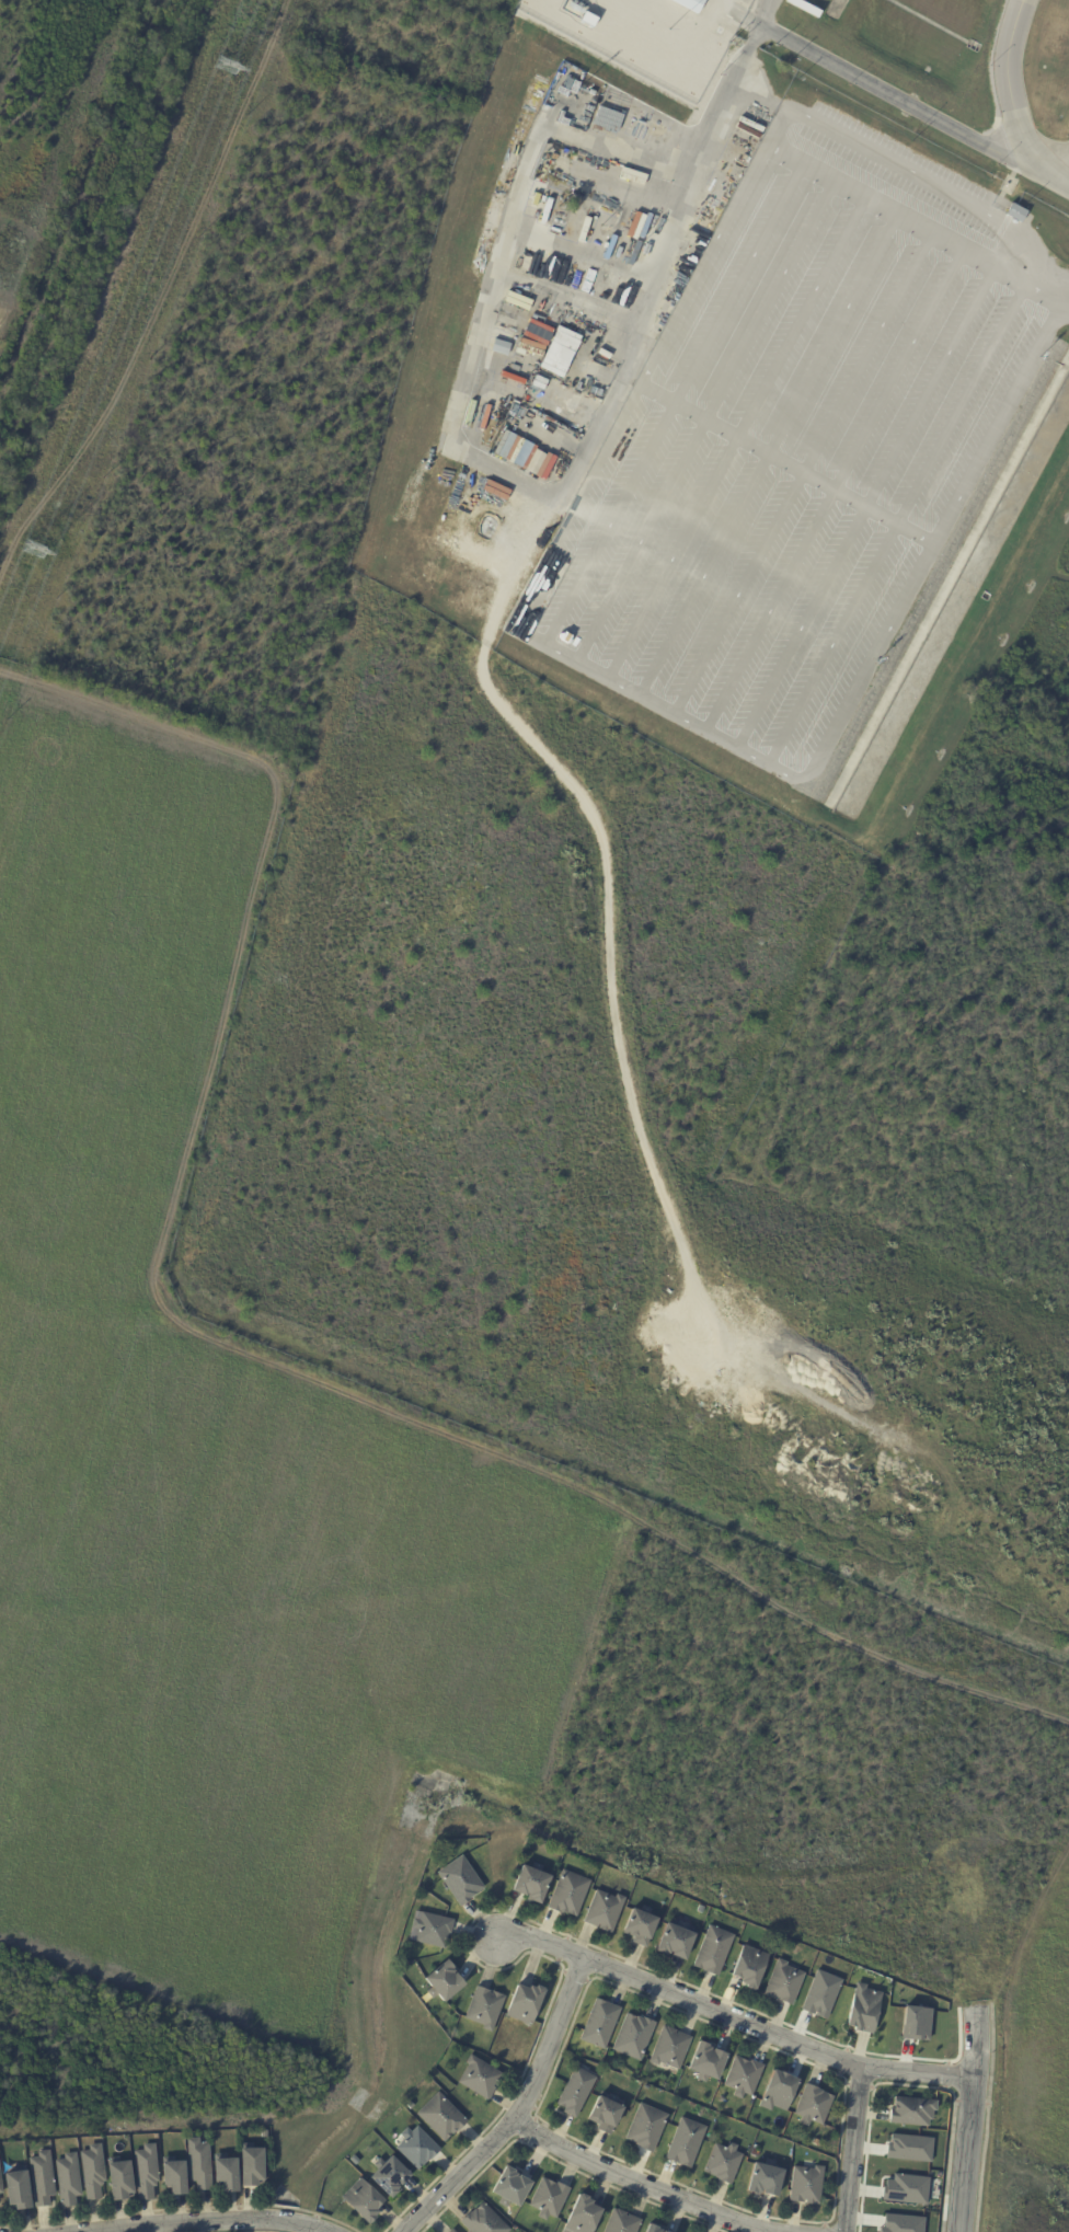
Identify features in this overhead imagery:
building: (691, 4)
power substation: (708, 11)
power tower: (227, 65)
road: (883, 91)
road: (1012, 102)
road: (723, 110)
park: (47, 115)
building: (607, 118)
building: (1016, 212)
building: (619, 219)
road: (917, 231)
building: (499, 346)
building: (560, 350)
building: (537, 461)
power tower: (39, 552)
building: (460, 1879)
building: (532, 1882)
building: (568, 1892)
building: (605, 1910)
building: (641, 1925)
building: (432, 1929)
building: (676, 1940)
building: (713, 1951)
building: (750, 1967)
building: (442, 1980)
building: (785, 1981)
building: (820, 1993)
building: (525, 2002)
building: (485, 2006)
building: (862, 2006)
park: (1035, 2015)
road: (732, 2018)
building: (601, 2022)
building: (915, 2023)
building: (634, 2035)
building: (670, 2047)
building: (494, 2052)
building: (708, 2061)
building: (744, 2075)
building: (480, 2076)
building: (780, 2091)
building: (576, 2092)
building: (814, 2105)
building: (913, 2110)
road: (519, 2113)
building: (606, 2114)
building: (441, 2116)
road: (970, 2119)
building: (646, 2127)
building: (264, 2133)
building: (686, 2142)
building: (416, 2145)
building: (908, 2147)
road: (851, 2150)
building: (724, 2162)
building: (199, 2163)
building: (251, 2165)
building: (146, 2170)
building: (93, 2171)
building: (226, 2172)
building: (173, 2174)
building: (390, 2175)
building: (42, 2177)
building: (68, 2178)
building: (119, 2178)
building: (766, 2179)
building: (1, 2184)
road: (634, 2184)
building: (807, 2185)
building: (16, 2187)
building: (510, 2187)
building: (905, 2188)
building: (549, 2198)
building: (363, 2199)
building: (583, 2214)
road: (276, 2220)
building: (484, 2220)
building: (622, 2222)
building: (901, 2223)
road: (183, 2224)
road: (313, 2227)
building: (654, 2229)
building: (453, 2231)
building: (665, 2231)

